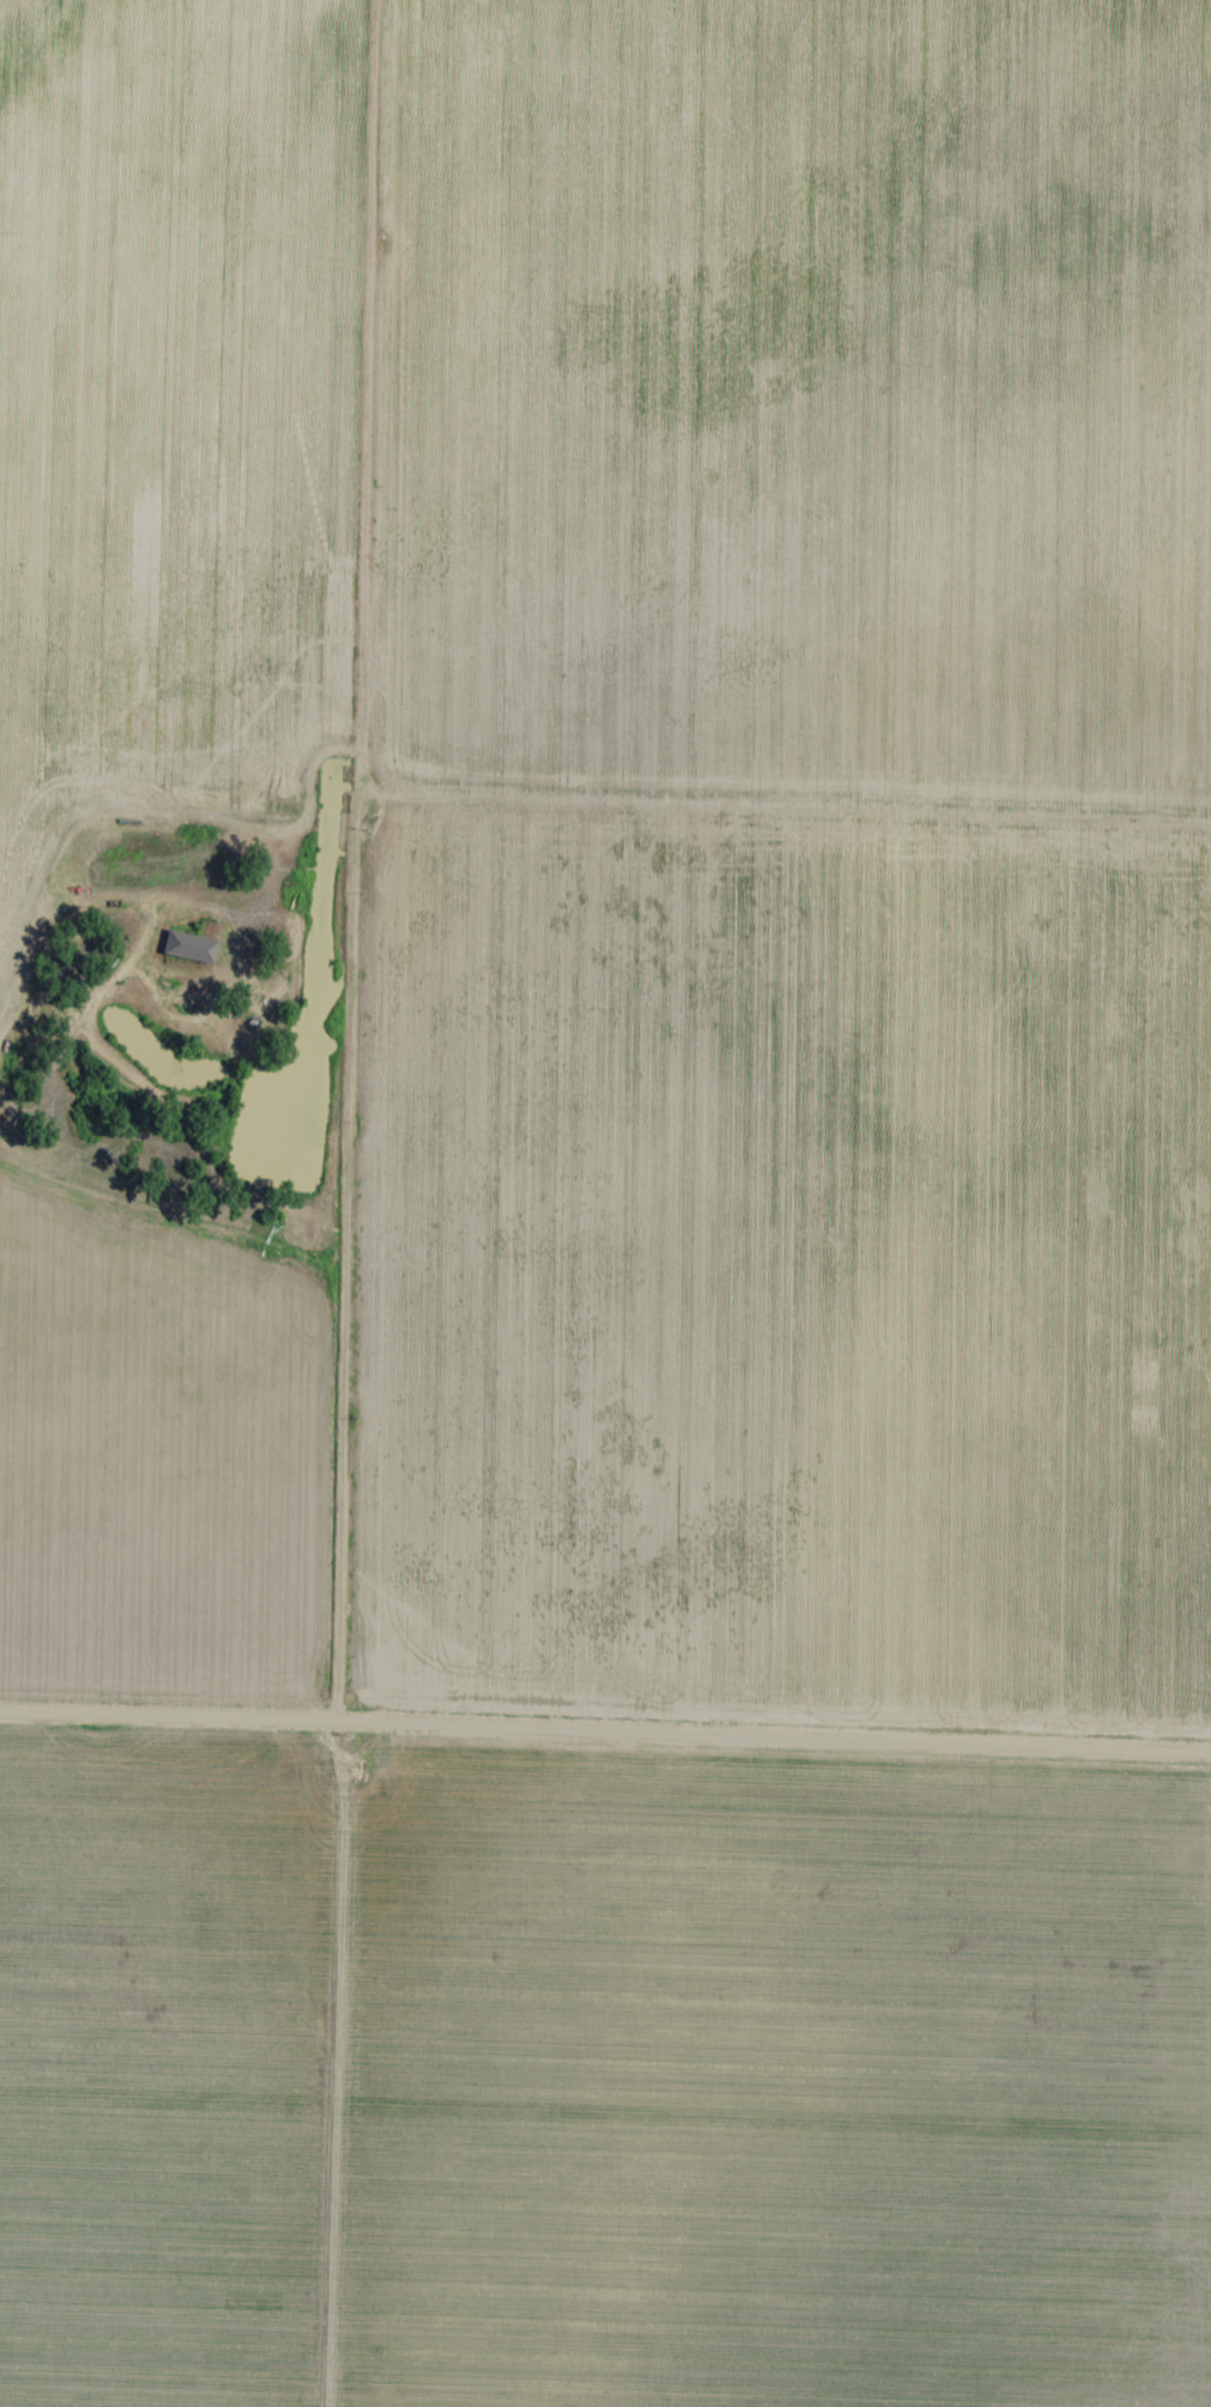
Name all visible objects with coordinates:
road: (30, 35)
road: (605, 1730)

